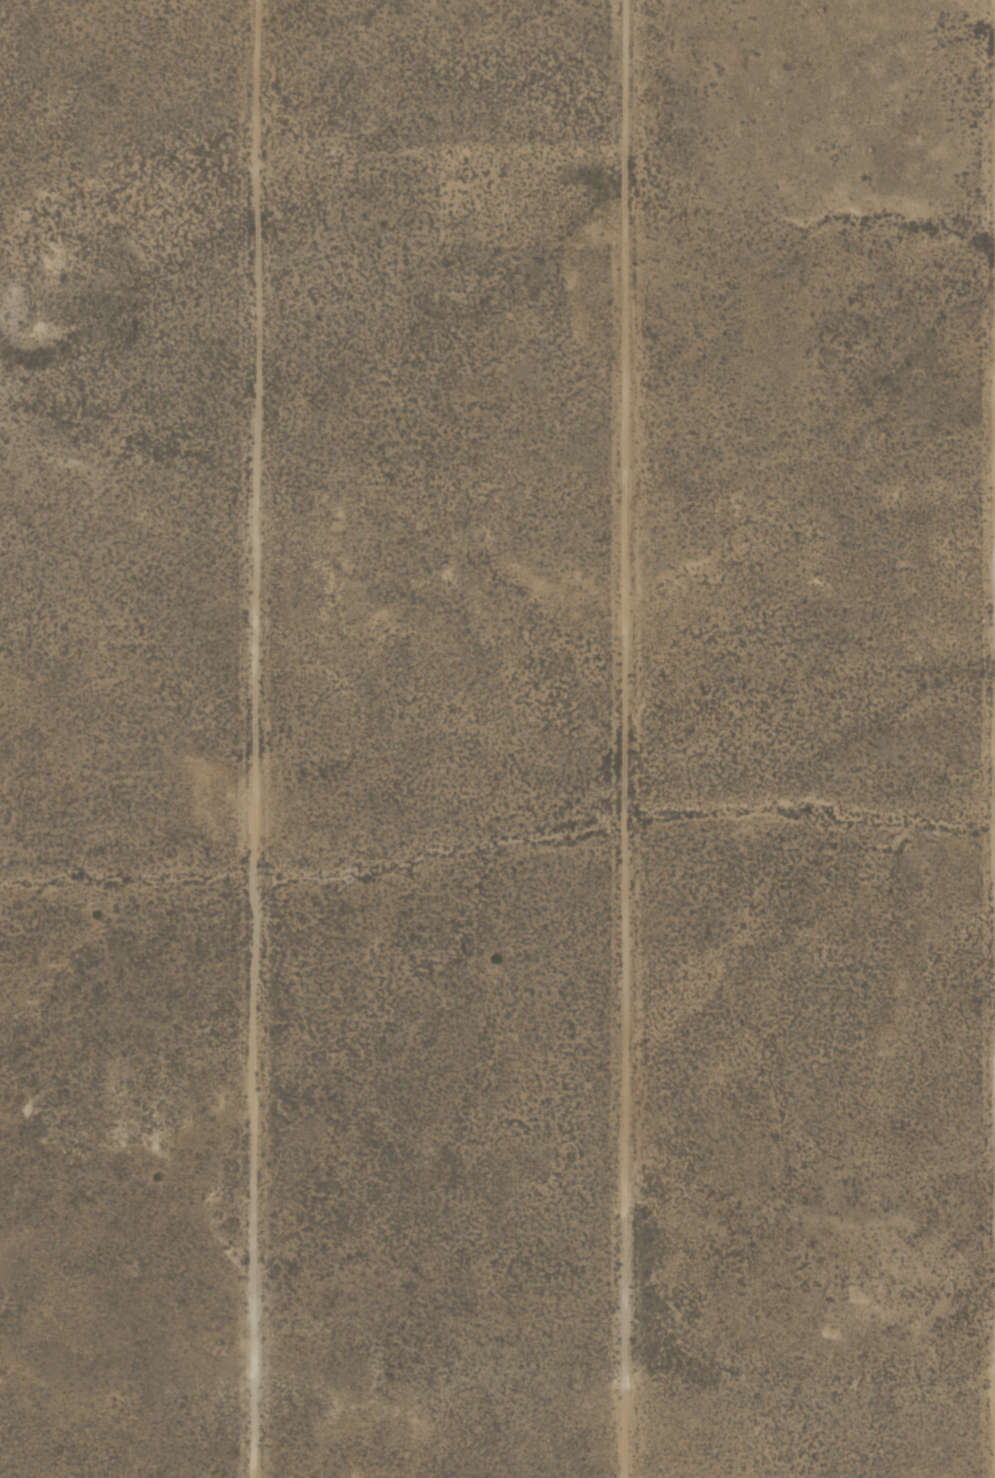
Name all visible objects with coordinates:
road: (264, 739)
road: (634, 739)

